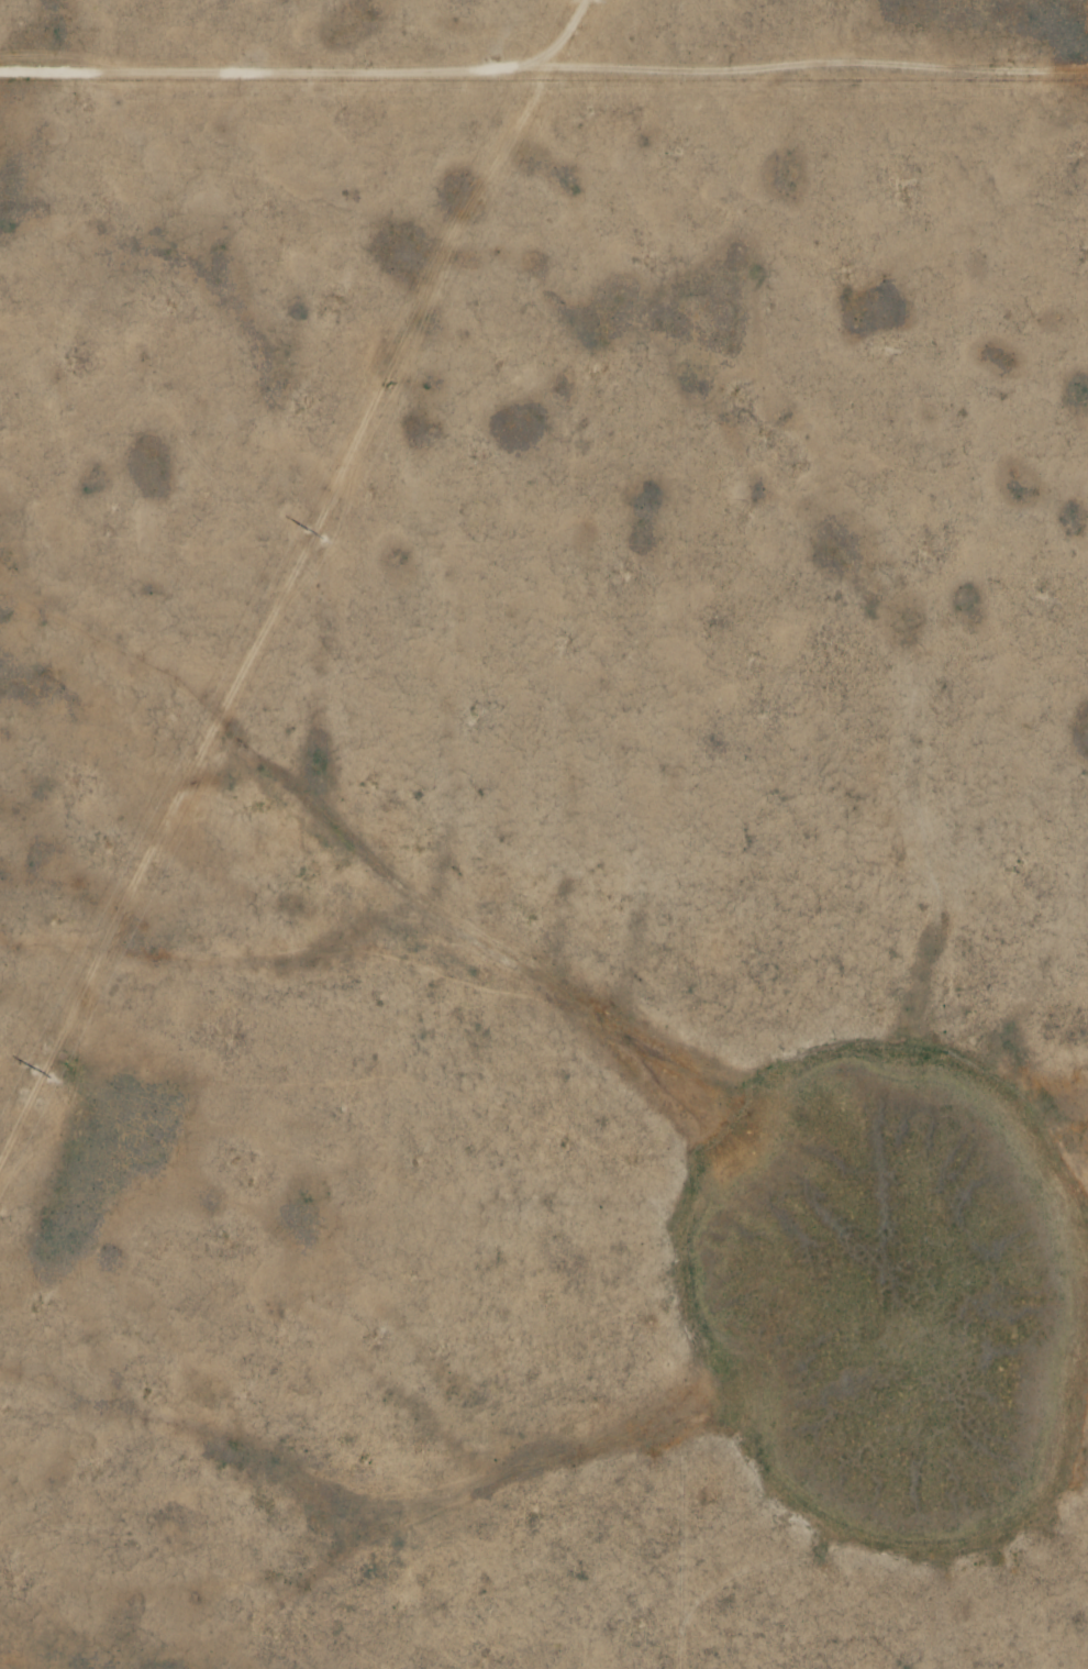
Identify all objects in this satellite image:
road: (543, 46)
power tower: (319, 533)
power tower: (47, 1072)

